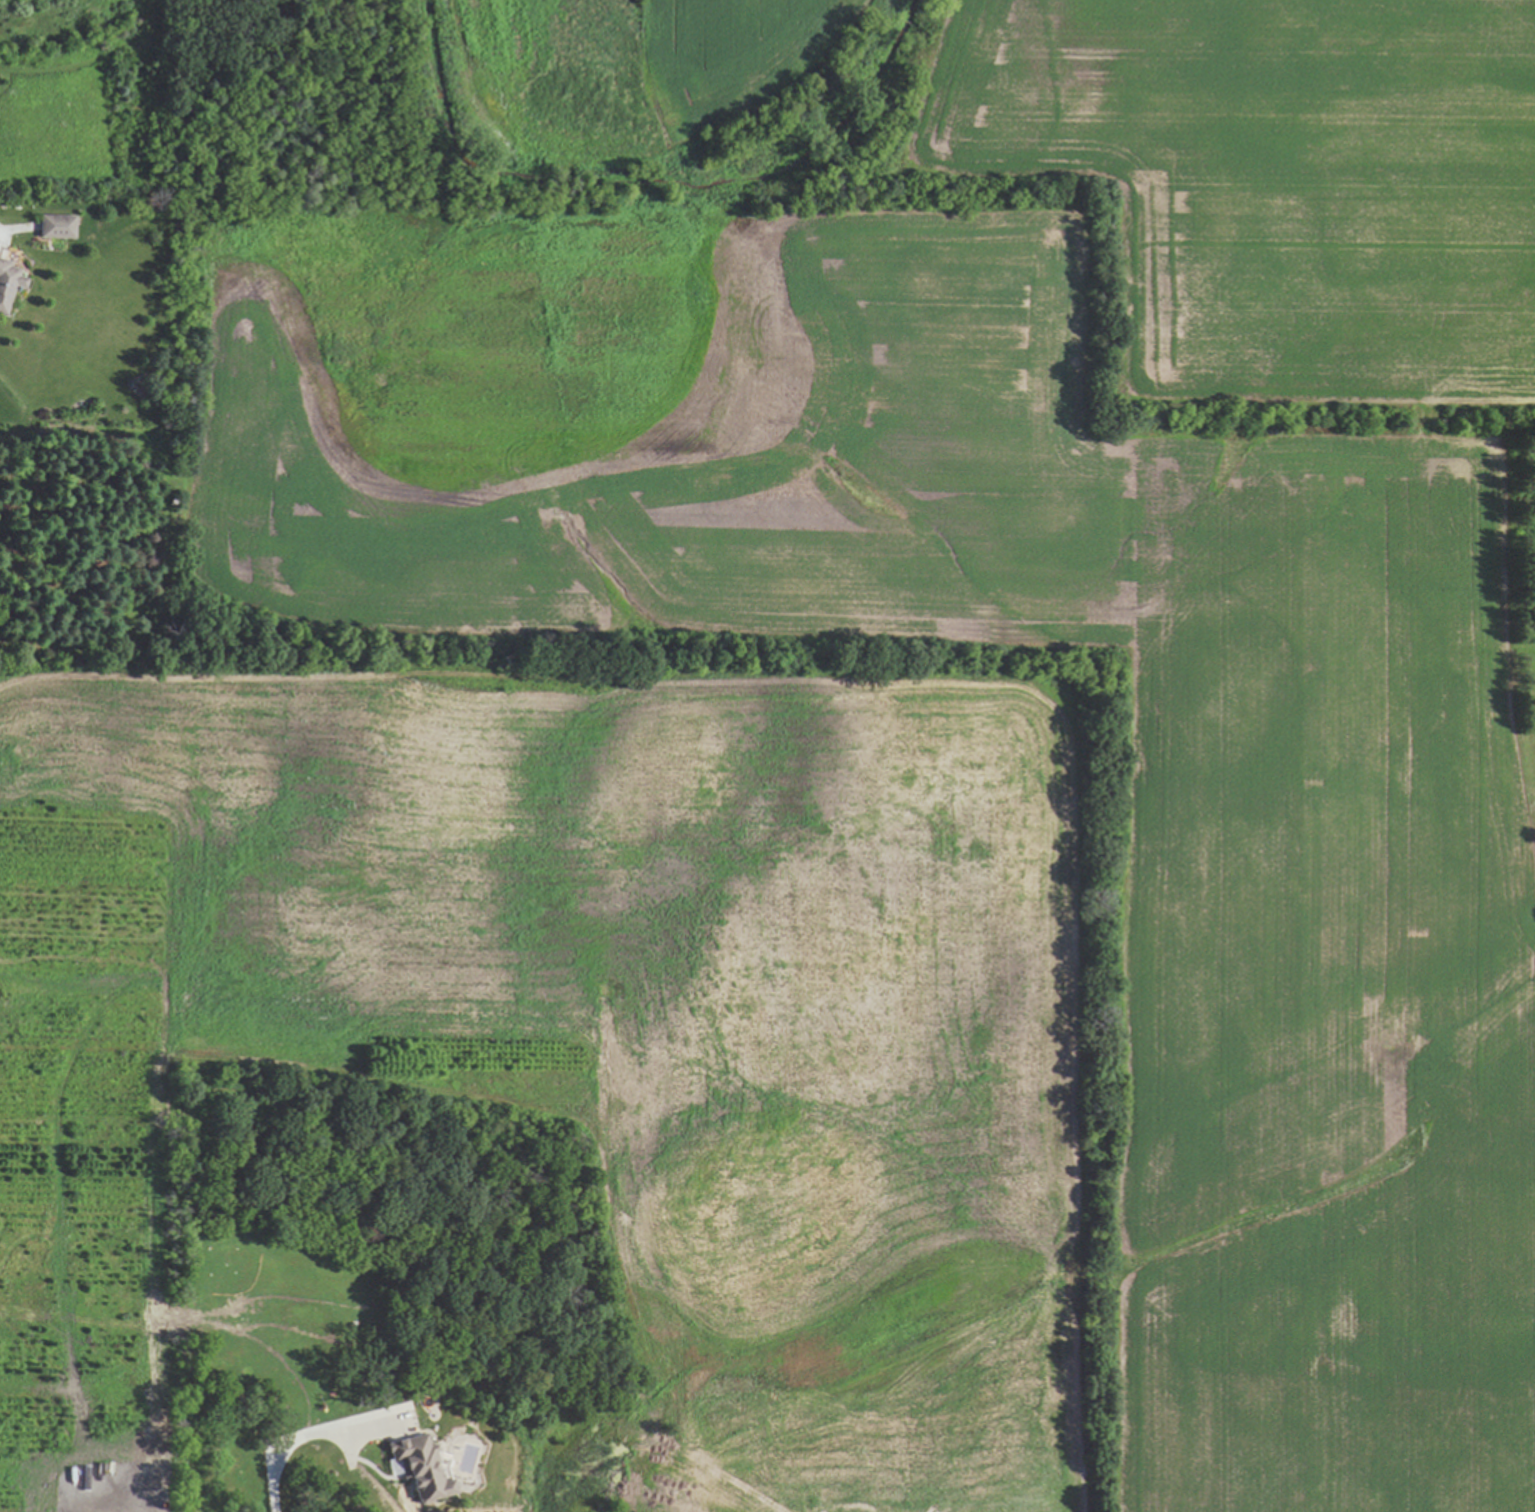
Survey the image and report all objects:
building: (53, 227)
building: (8, 283)
road: (279, 1459)
building: (417, 1468)

